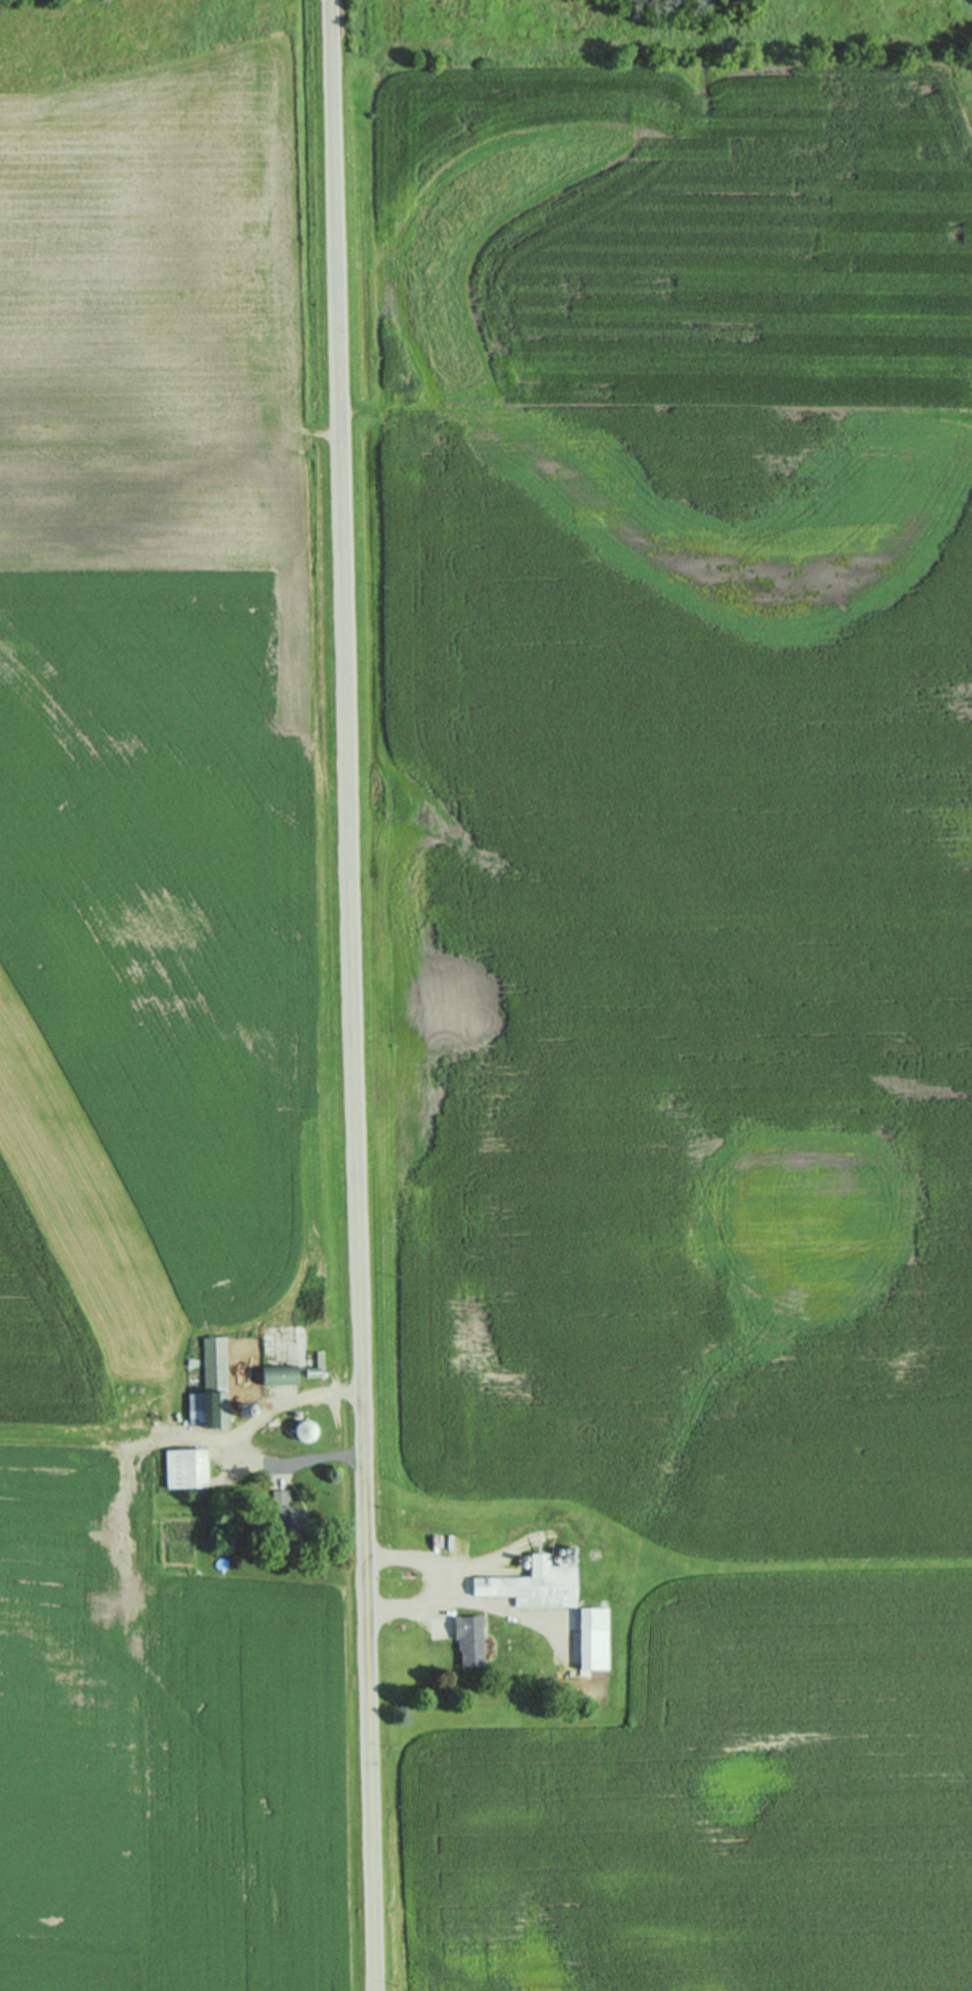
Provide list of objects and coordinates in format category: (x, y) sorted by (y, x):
road: (351, 995)
building: (317, 1365)
building: (143, 1373)
building: (281, 1373)
building: (211, 1386)
building: (307, 1430)
building: (187, 1466)
building: (293, 1524)
building: (535, 1583)
building: (595, 1636)
building: (471, 1639)

